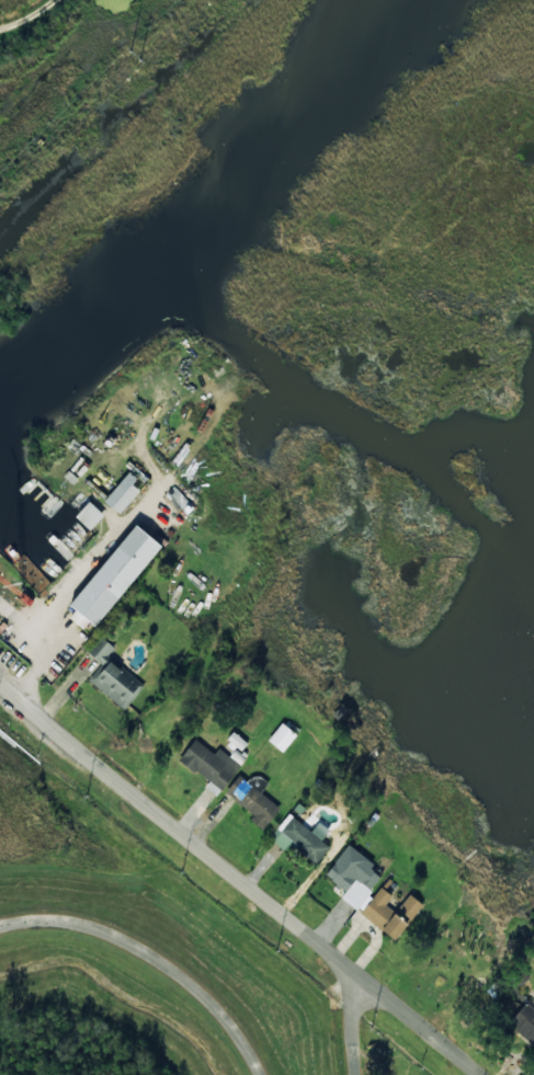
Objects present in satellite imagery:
power tower: (134, 55)
building: (124, 492)
building: (41, 494)
building: (90, 515)
building: (114, 576)
building: (113, 675)
building: (282, 736)
building: (237, 741)
building: (212, 764)
building: (253, 799)
building: (302, 837)
road: (241, 879)
building: (370, 892)
road: (154, 954)
road: (353, 1026)

